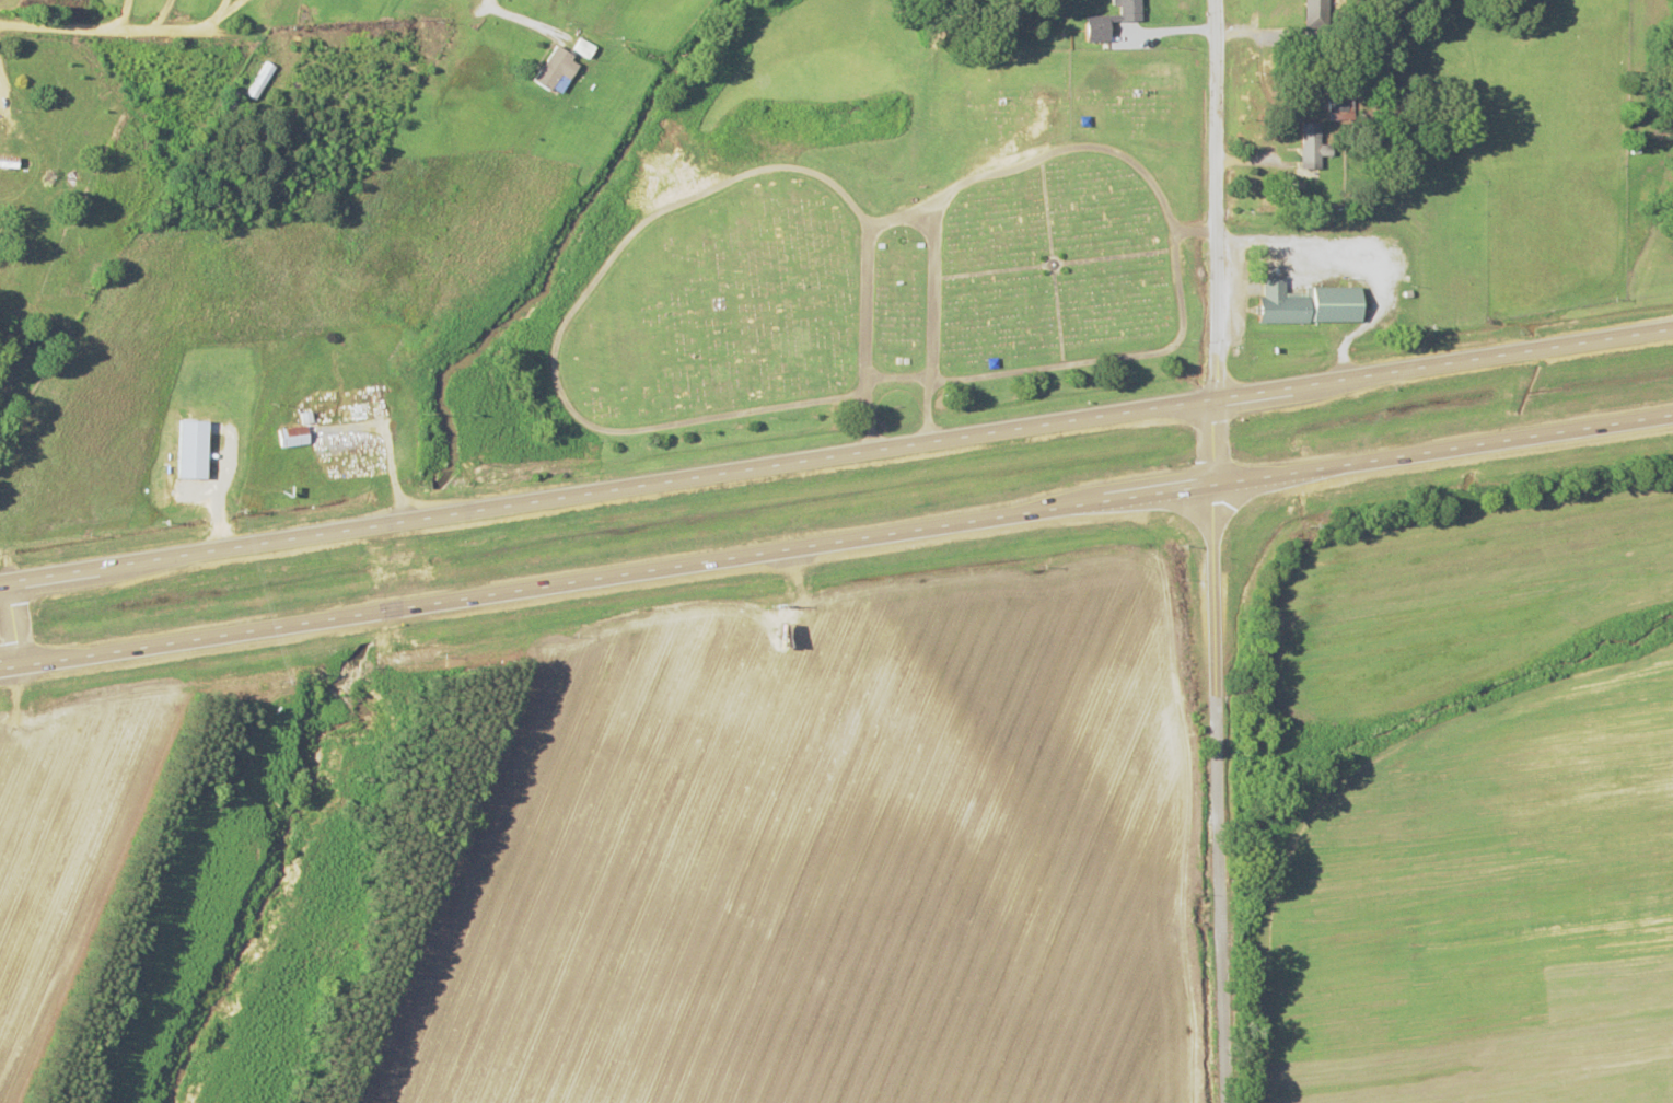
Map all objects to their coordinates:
road: (493, 3)
road: (219, 8)
road: (225, 8)
building: (1313, 14)
building: (1101, 21)
road: (111, 27)
building: (581, 48)
building: (555, 70)
building: (256, 80)
building: (1309, 146)
building: (7, 160)
road: (1218, 245)
building: (1305, 302)
building: (291, 436)
road: (837, 458)
road: (836, 544)
road: (7, 628)
road: (1223, 797)

